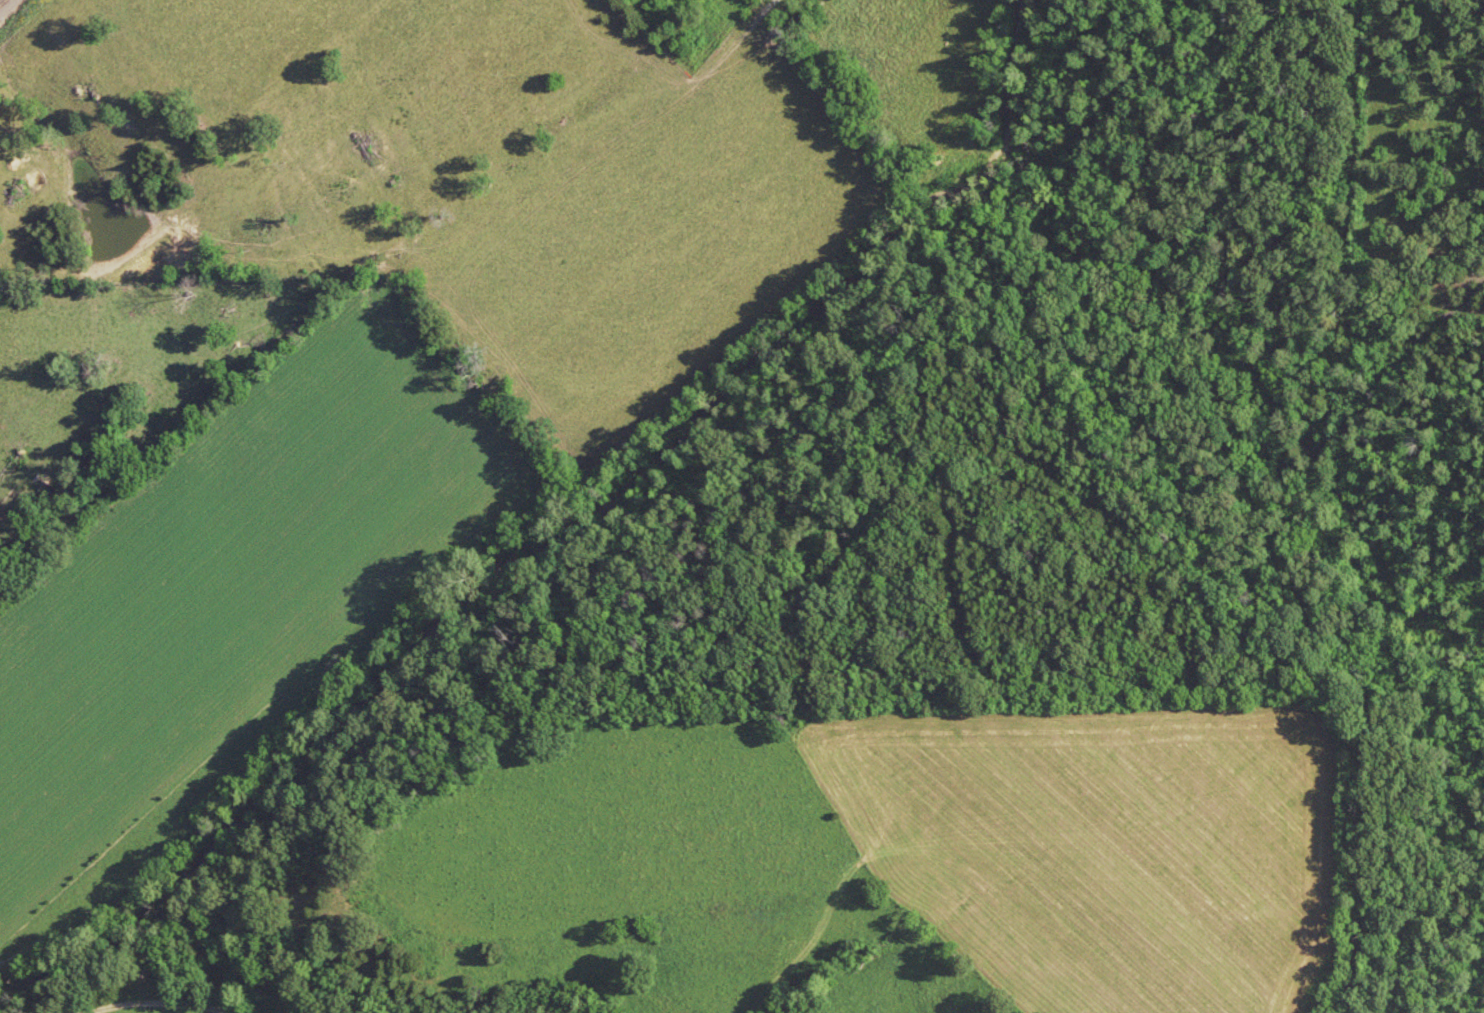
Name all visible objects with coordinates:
railway: (1, 1)

